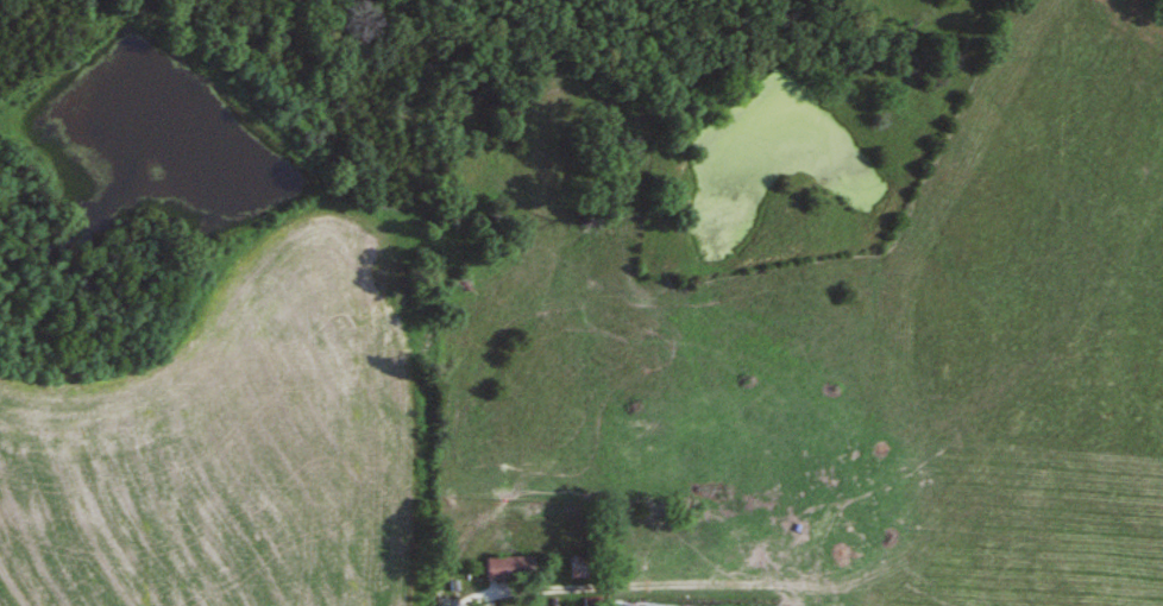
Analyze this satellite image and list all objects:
building: (505, 568)
road: (474, 595)

